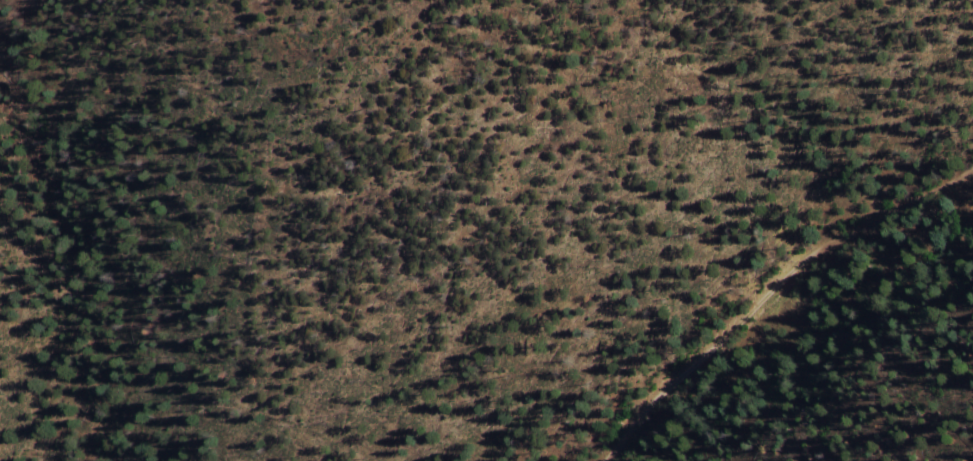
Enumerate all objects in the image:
road: (743, 300)

